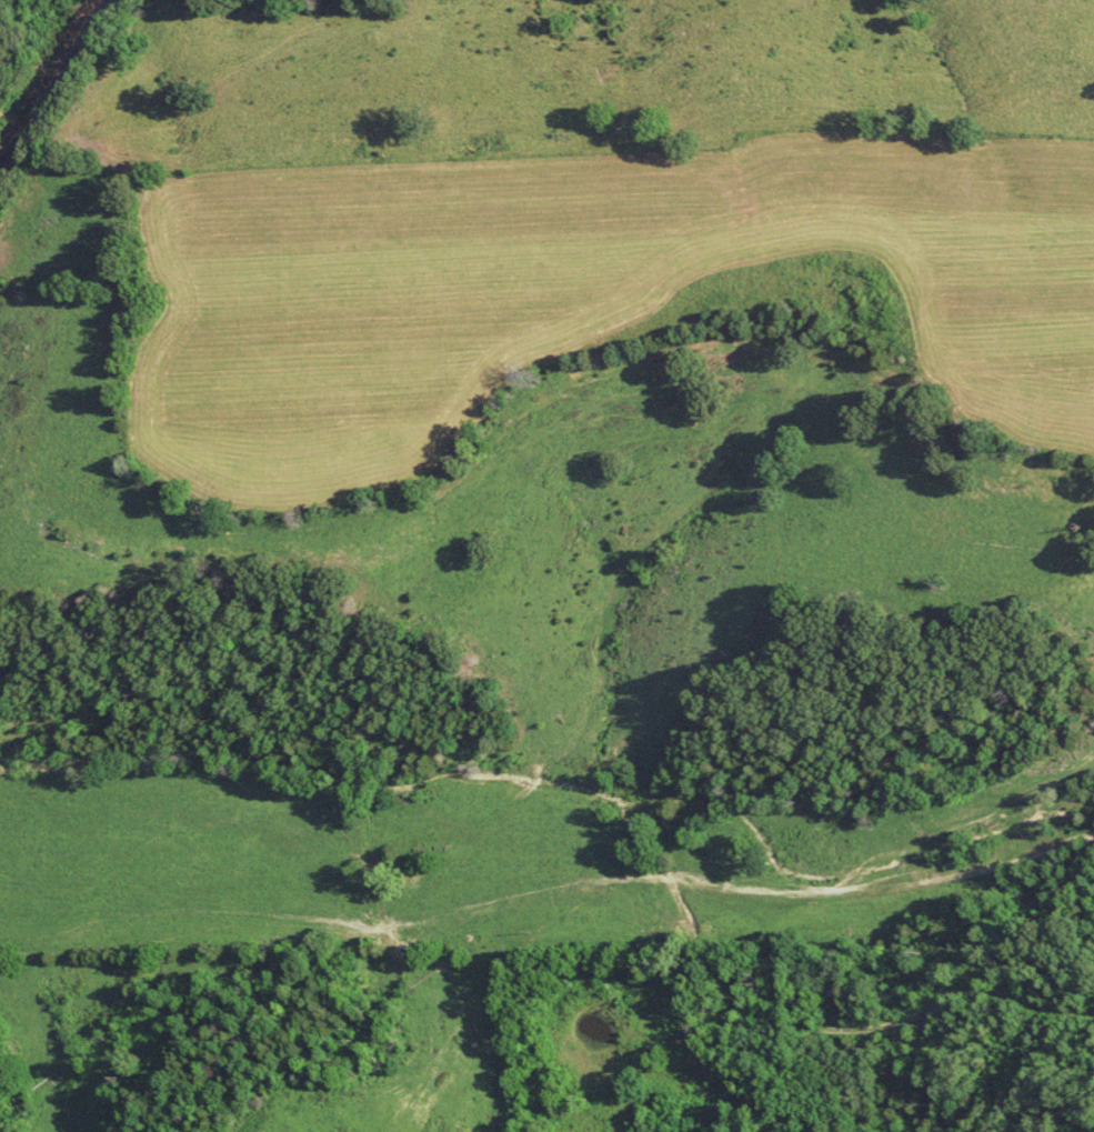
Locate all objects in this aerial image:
railway: (47, 82)

